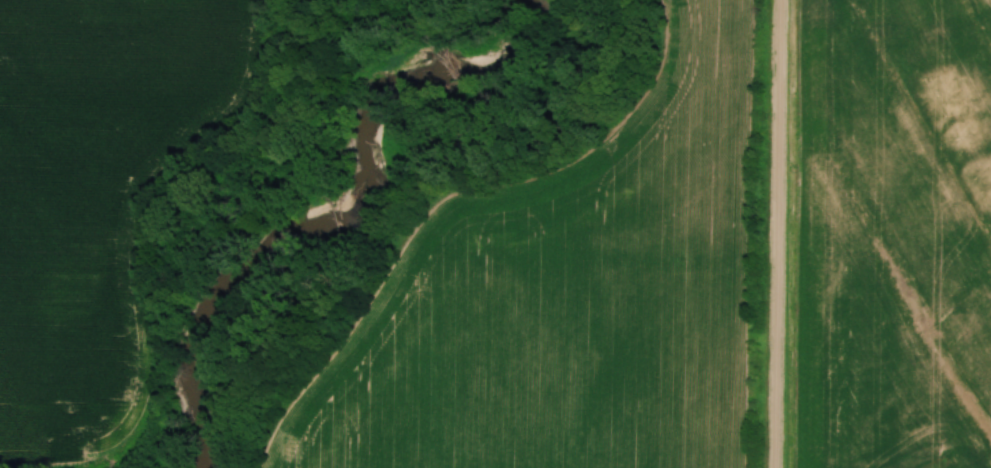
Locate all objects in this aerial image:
road: (781, 234)

